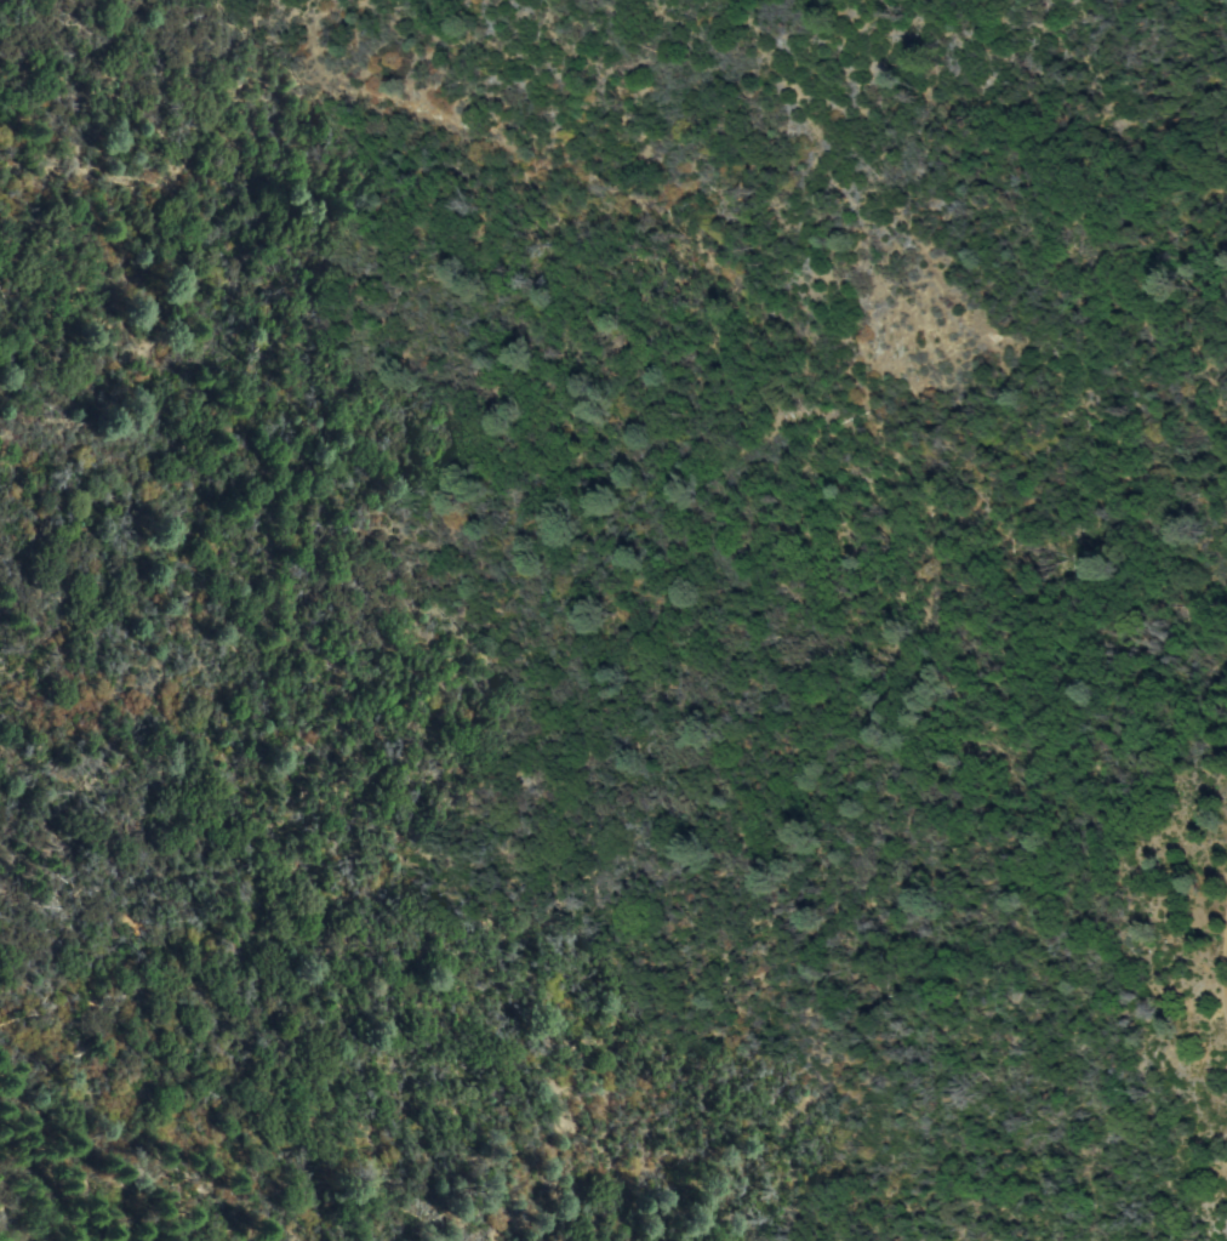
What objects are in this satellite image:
road: (1216, 979)

